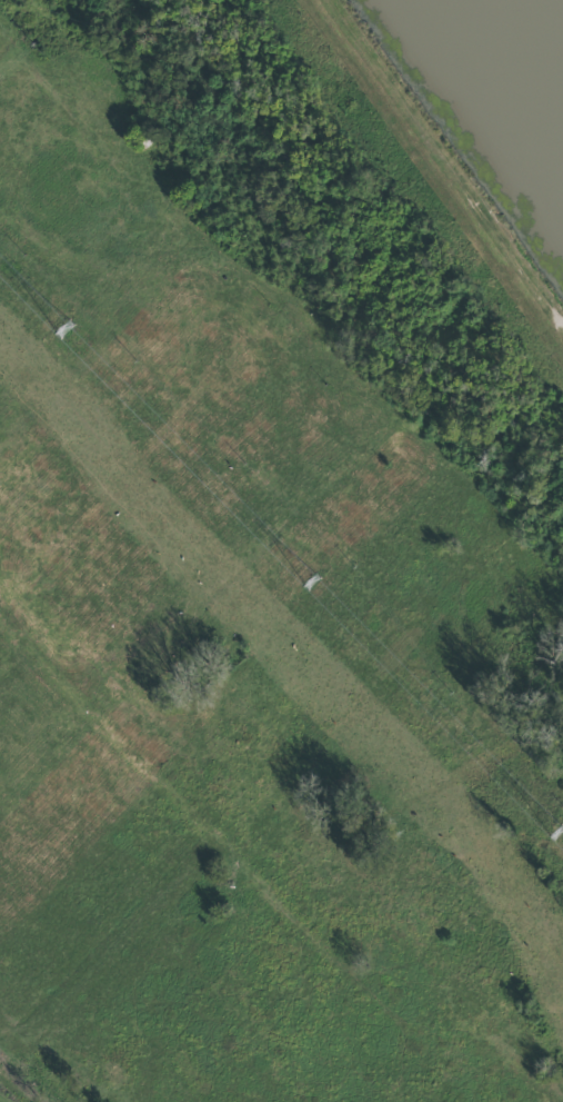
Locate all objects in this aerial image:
road: (446, 158)
power tower: (62, 331)
power tower: (309, 583)
power tower: (557, 835)

